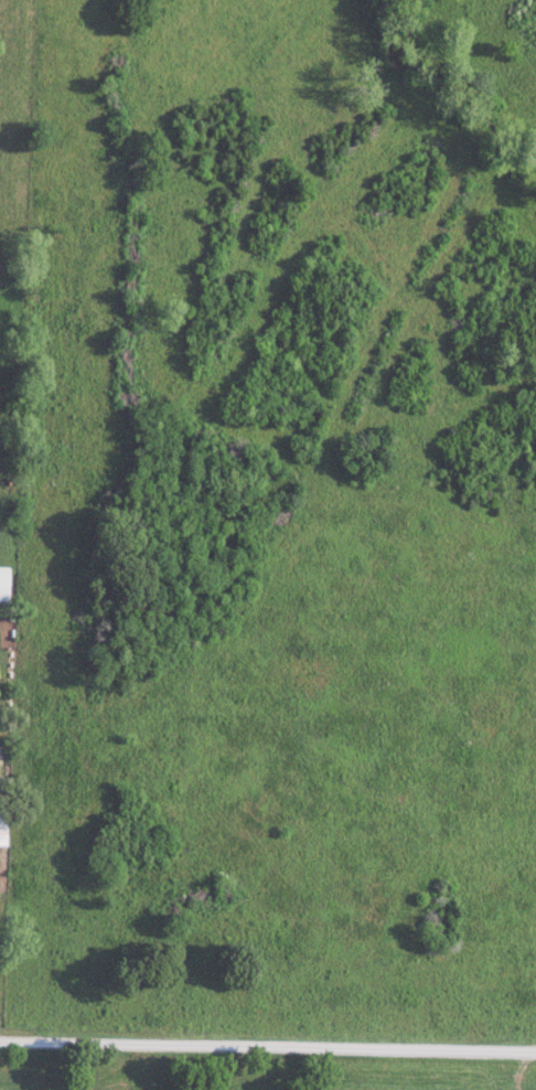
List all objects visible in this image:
road: (268, 1047)

